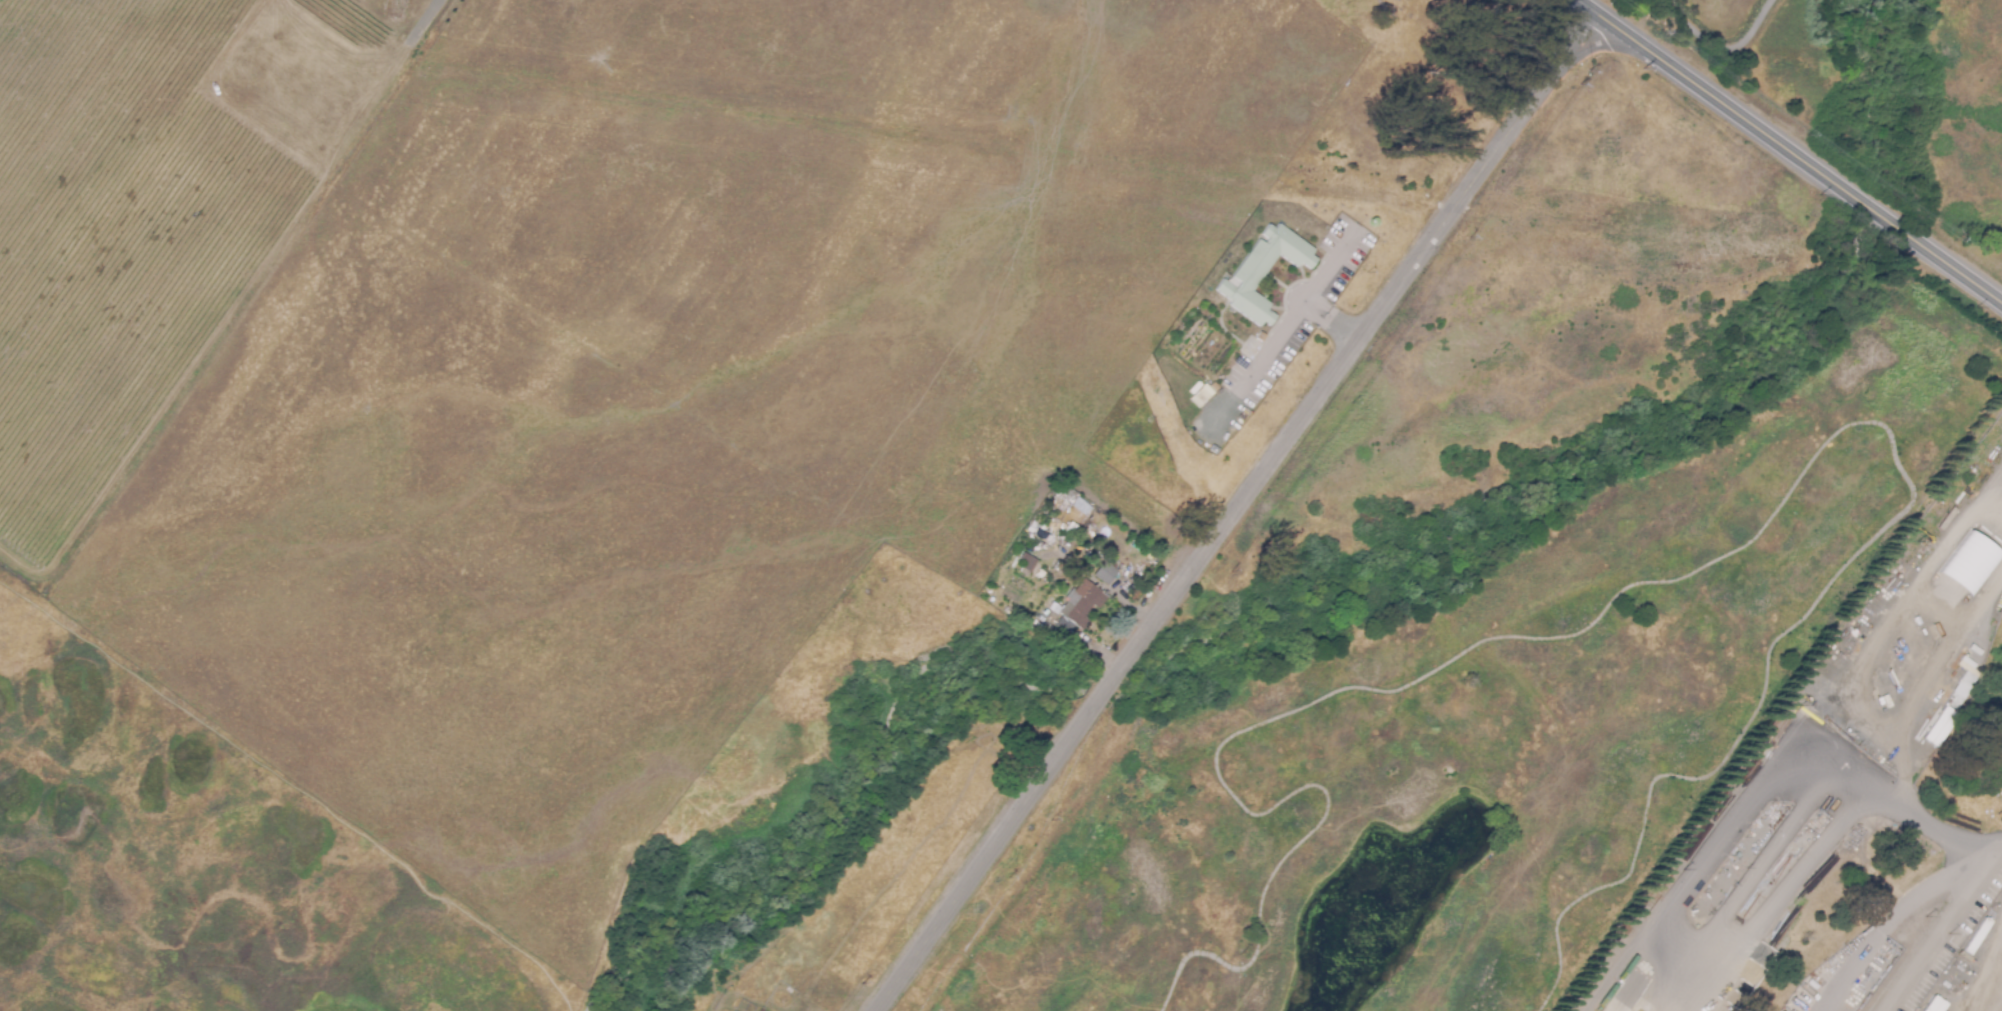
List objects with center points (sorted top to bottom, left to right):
road: (429, 19)
road: (1721, 46)
park: (1877, 91)
road: (1790, 149)
park: (1322, 240)
road: (1334, 263)
building: (1261, 271)
park: (1563, 339)
road: (1273, 346)
road: (1234, 511)
building: (1968, 562)
building: (1025, 564)
road: (1698, 568)
building: (1104, 572)
building: (1080, 603)
road: (1932, 689)
building: (1960, 689)
building: (1938, 725)
park: (1508, 727)
road: (1933, 824)
road: (1761, 866)
road: (1888, 926)
road: (1939, 933)
road: (1668, 934)
road: (1983, 969)
building: (1618, 1002)
building: (1933, 1004)
building: (760, 1010)

